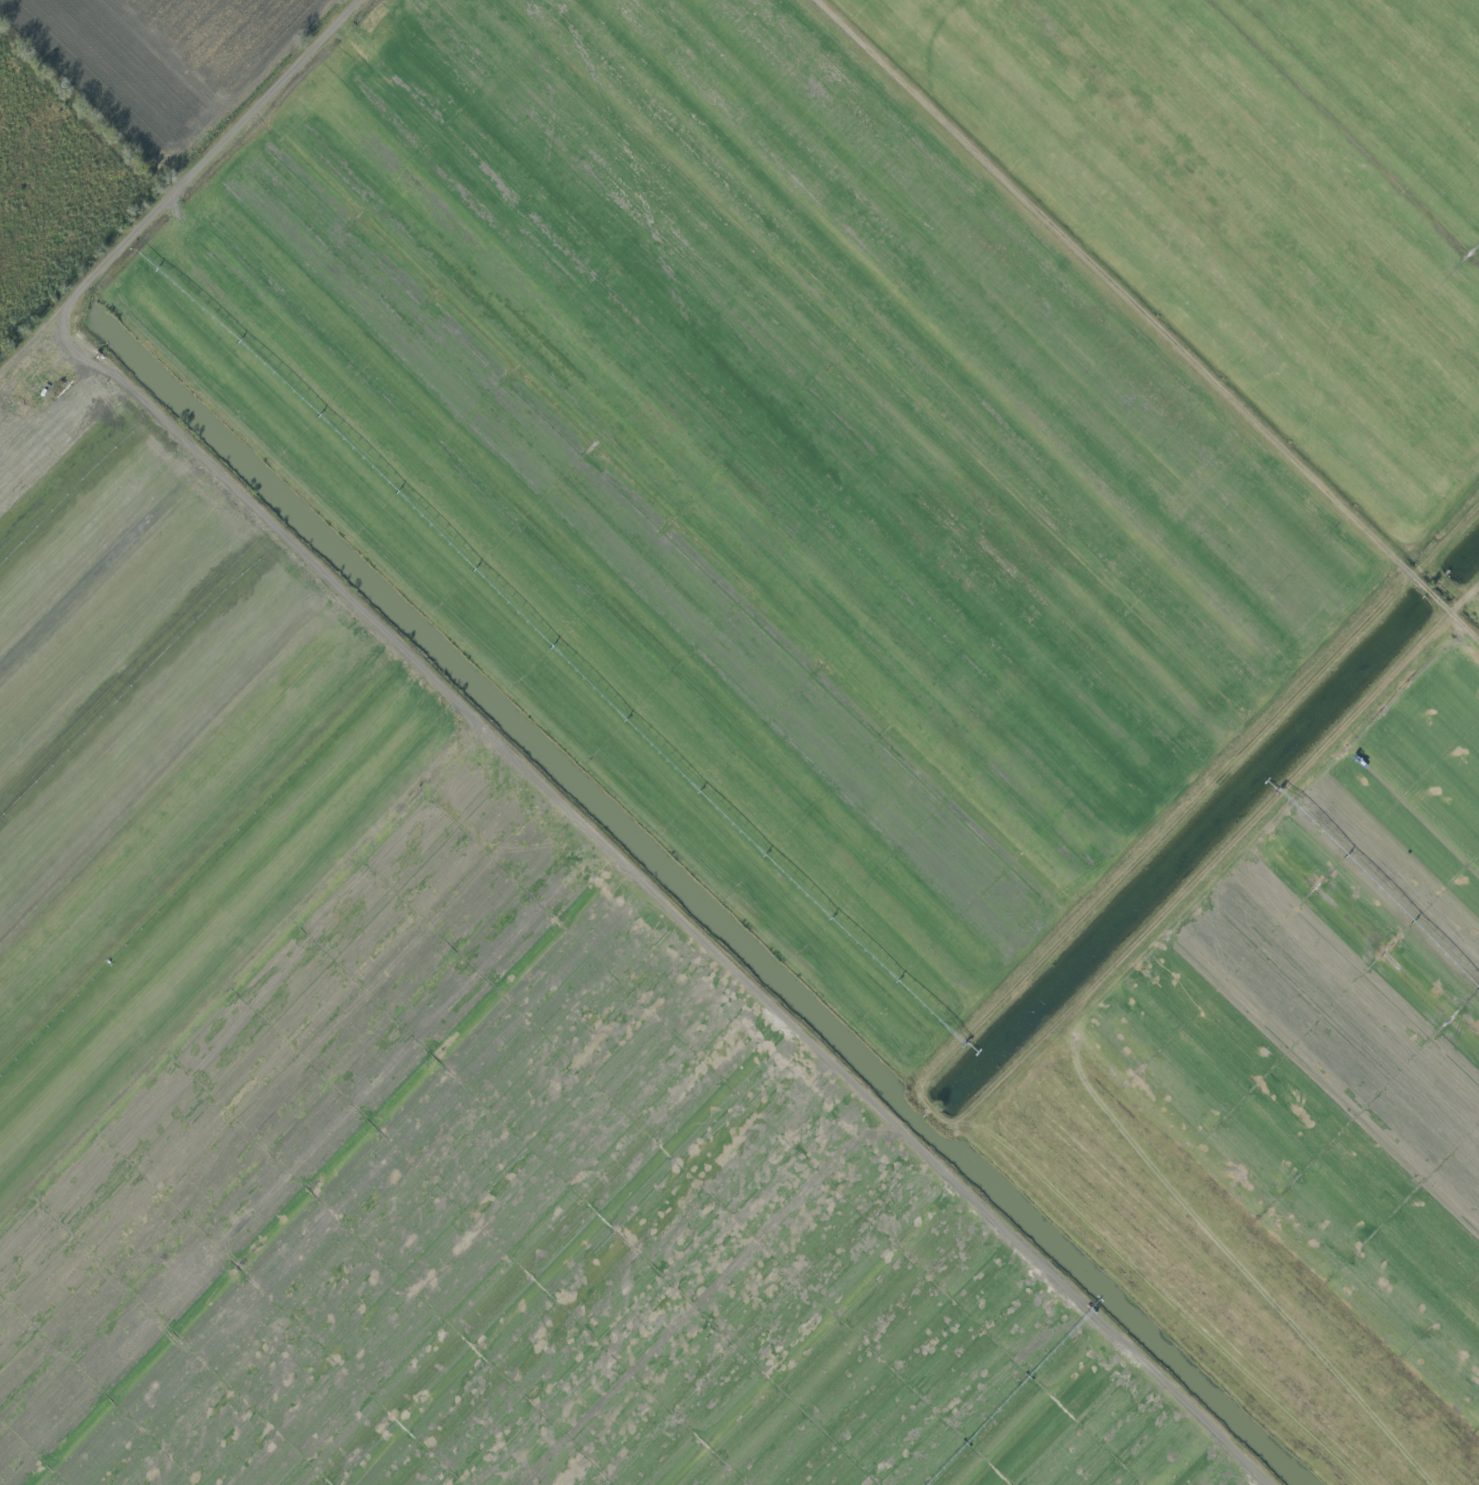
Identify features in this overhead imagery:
road: (231, 119)
road: (73, 132)

